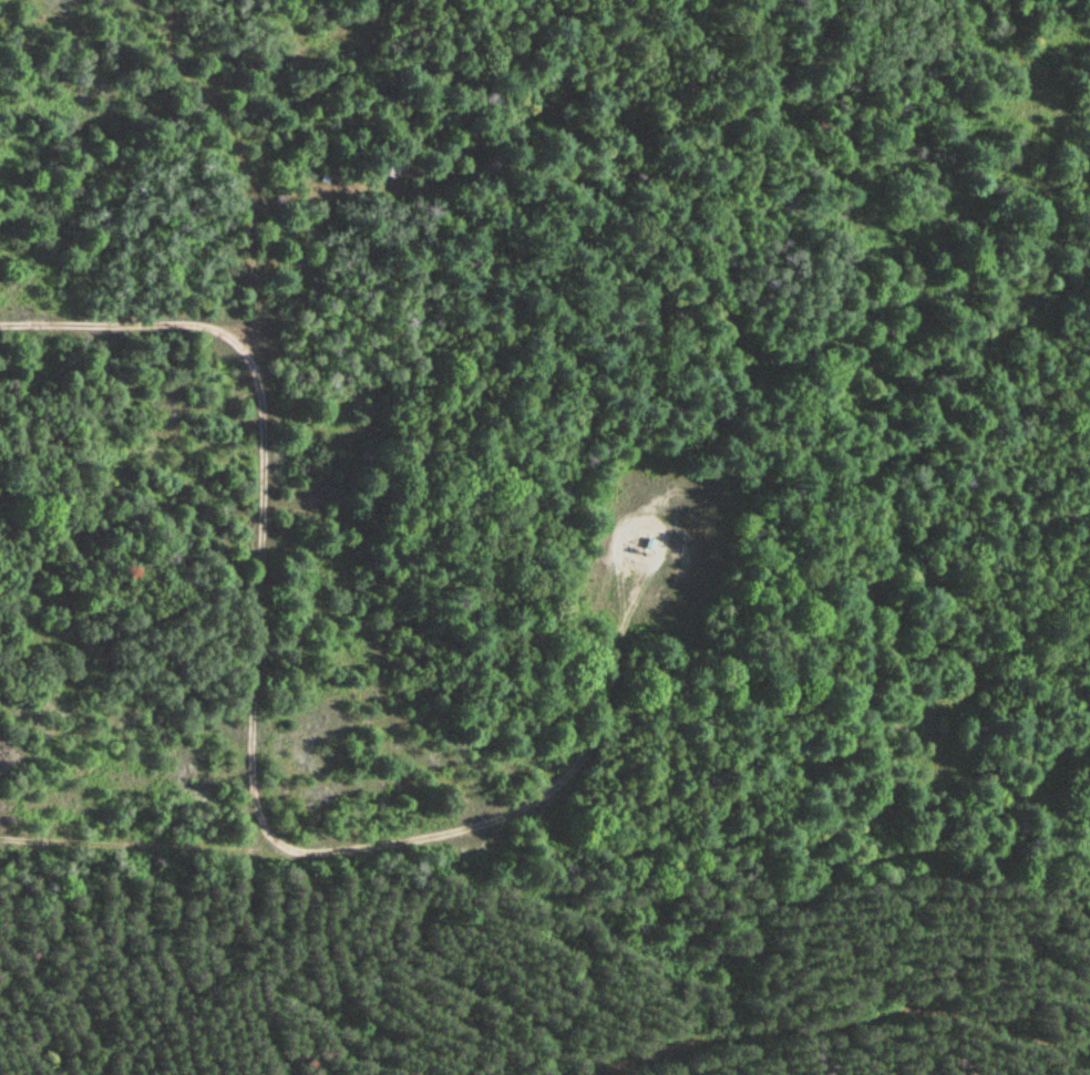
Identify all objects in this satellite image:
road: (264, 472)
road: (652, 500)
petroleum well: (637, 548)
road: (383, 846)
road: (834, 1020)

